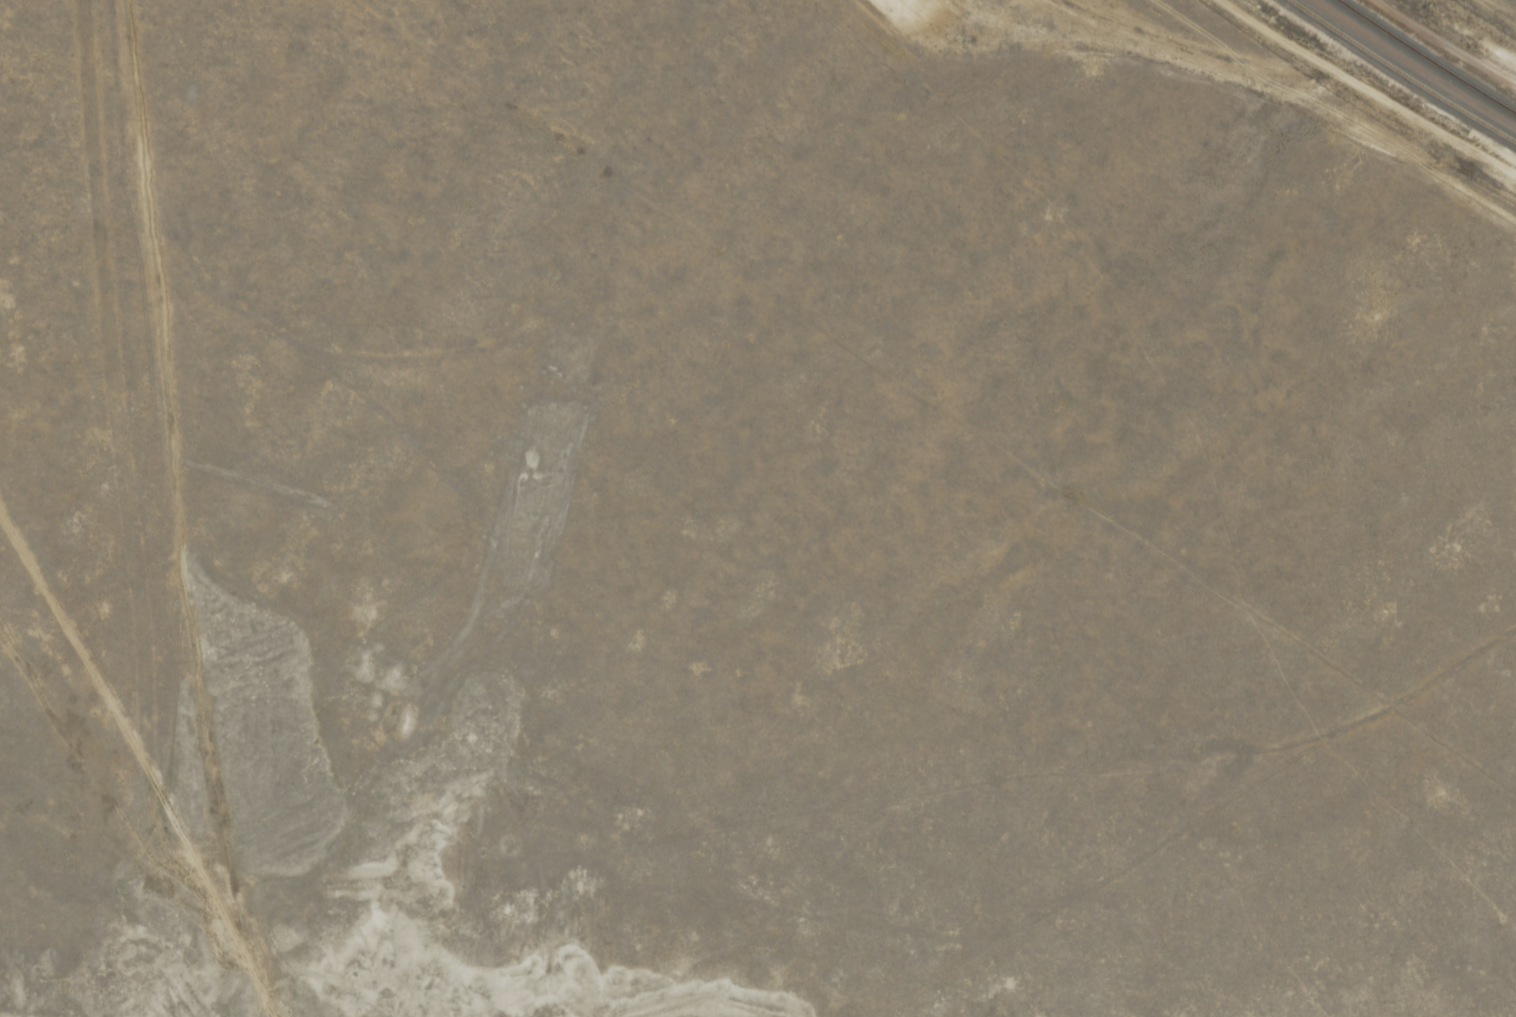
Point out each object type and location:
railway: (1425, 57)
railway: (1400, 74)
road: (1336, 145)

